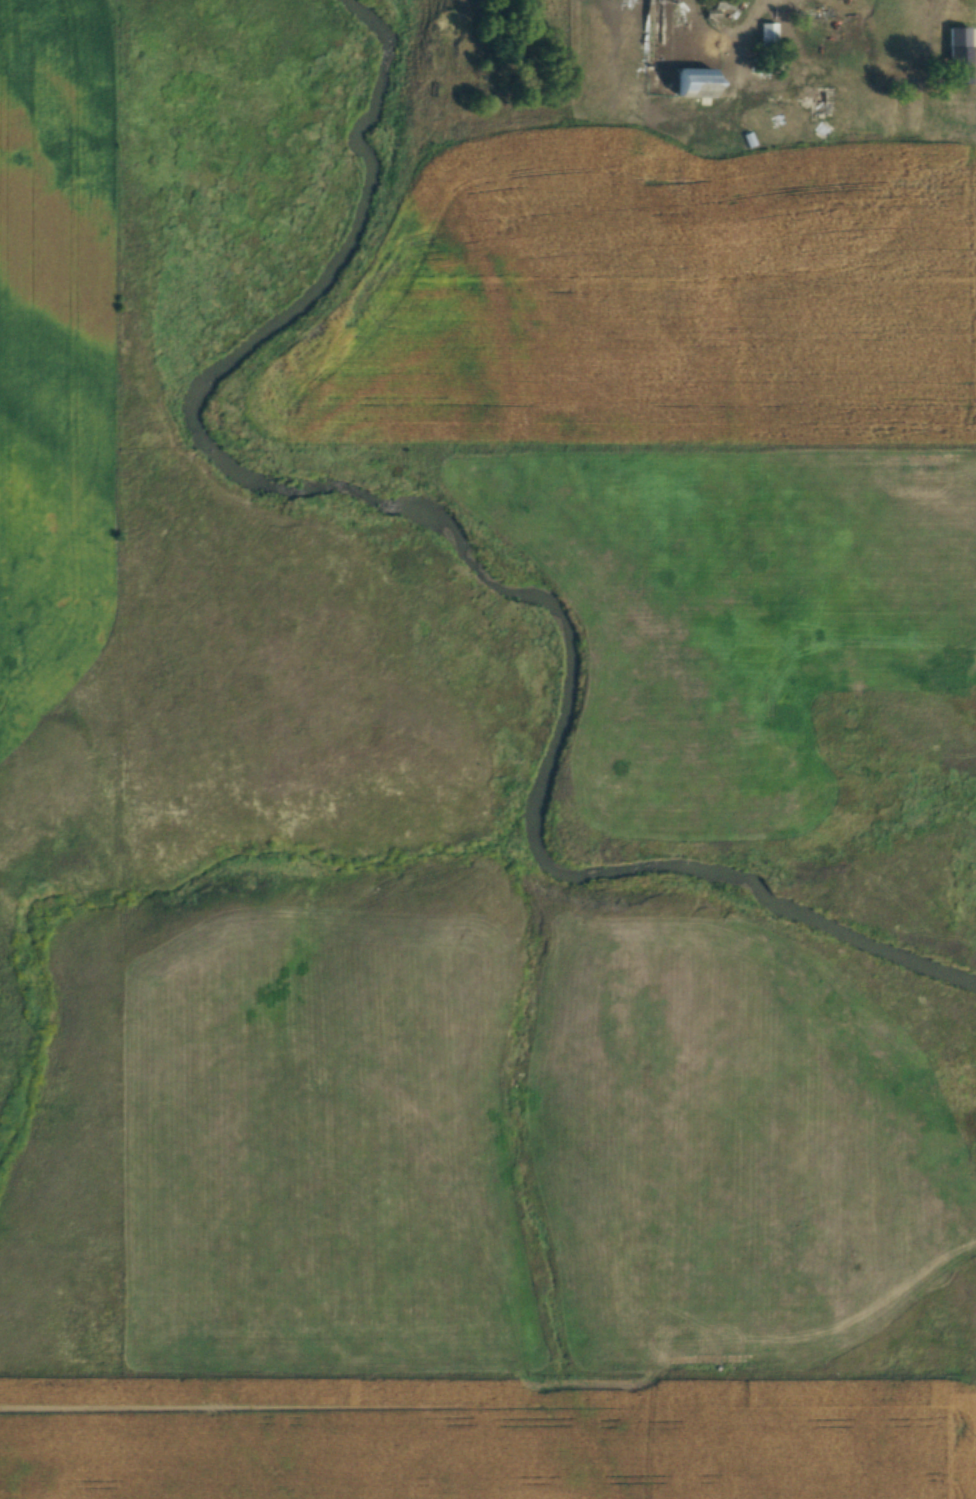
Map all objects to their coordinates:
building: (660, 12)
building: (768, 35)
building: (956, 55)
building: (689, 81)
road: (770, 82)

